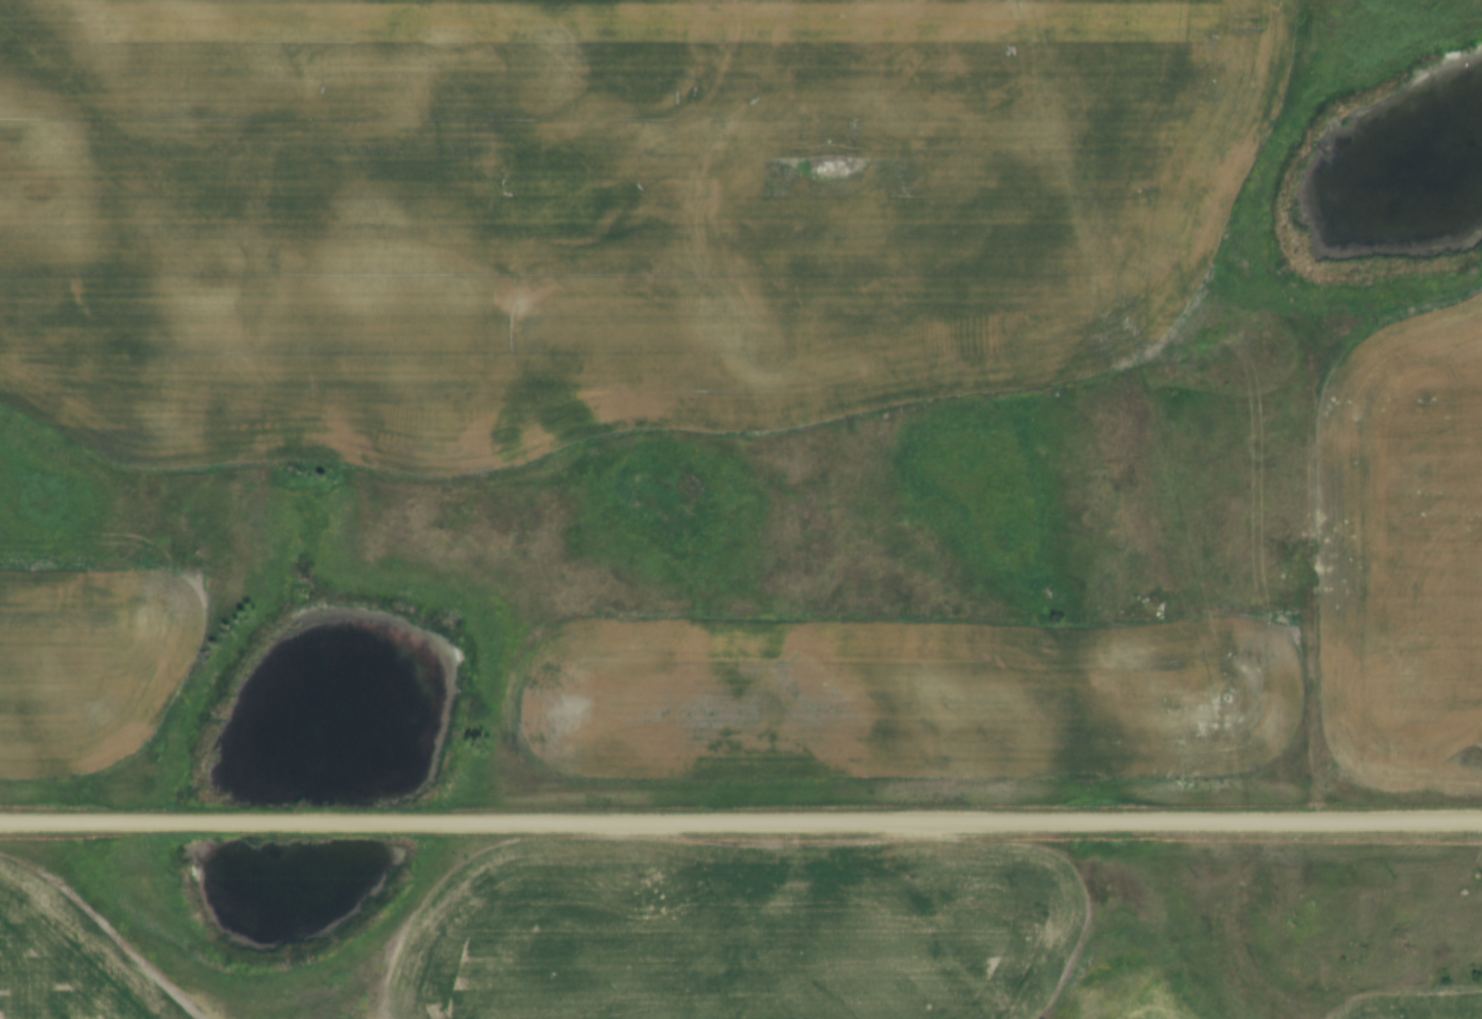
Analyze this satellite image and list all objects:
road: (1315, 501)
road: (741, 825)

